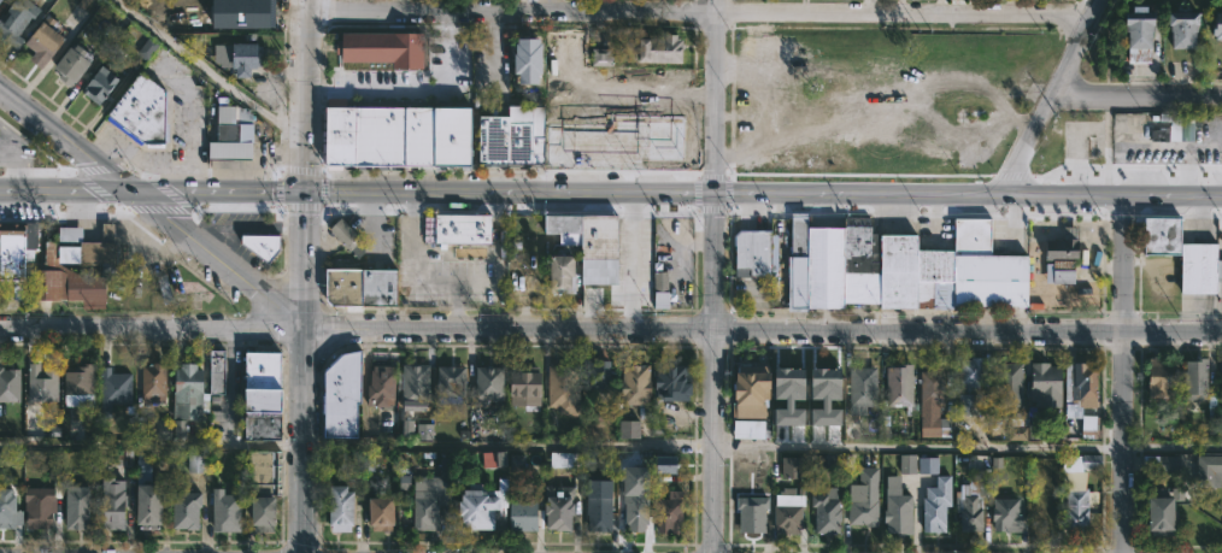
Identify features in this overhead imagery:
building: (1, 1)
road: (544, 6)
building: (28, 10)
road: (698, 12)
building: (241, 16)
building: (1214, 25)
building: (1176, 28)
building: (1133, 34)
building: (129, 39)
building: (46, 42)
building: (527, 51)
building: (666, 51)
building: (390, 55)
building: (601, 57)
building: (242, 59)
building: (565, 59)
building: (77, 66)
road: (208, 72)
building: (601, 84)
building: (664, 86)
building: (104, 87)
road: (412, 92)
road: (1136, 98)
road: (1048, 100)
building: (147, 112)
building: (662, 118)
road: (192, 125)
building: (1173, 128)
building: (404, 134)
building: (518, 135)
building: (235, 136)
traffic signals: (302, 192)
traffic signals: (142, 195)
road: (610, 196)
road: (155, 206)
building: (468, 227)
road: (248, 228)
building: (348, 234)
building: (593, 241)
building: (265, 243)
building: (89, 246)
building: (758, 252)
building: (1180, 253)
building: (1058, 254)
building: (43, 267)
building: (894, 267)
building: (564, 271)
road: (304, 276)
road: (715, 276)
building: (366, 286)
building: (663, 287)
road: (610, 336)
building: (219, 371)
building: (601, 373)
building: (1220, 375)
road: (1124, 376)
building: (1156, 376)
building: (453, 380)
building: (155, 381)
building: (677, 381)
building: (43, 382)
building: (493, 382)
building: (1194, 382)
building: (418, 383)
building: (968, 383)
building: (10, 384)
building: (640, 384)
building: (829, 384)
building: (903, 384)
building: (82, 386)
building: (529, 386)
building: (1006, 386)
building: (1042, 386)
building: (1076, 386)
building: (383, 387)
building: (793, 387)
building: (116, 388)
building: (566, 389)
building: (862, 389)
building: (190, 390)
building: (346, 394)
building: (265, 395)
building: (930, 405)
building: (745, 406)
building: (1088, 424)
building: (1016, 425)
building: (407, 428)
building: (168, 429)
building: (628, 429)
building: (1034, 430)
building: (424, 431)
building: (1058, 433)
road: (611, 447)
building: (494, 459)
building: (572, 459)
building: (823, 461)
building: (196, 463)
building: (368, 463)
building: (907, 463)
building: (665, 464)
building: (1161, 464)
building: (928, 465)
building: (794, 466)
building: (1205, 470)
building: (404, 481)
building: (1073, 488)
building: (151, 493)
building: (862, 498)
building: (436, 499)
building: (968, 501)
building: (116, 504)
building: (41, 506)
building: (564, 506)
building: (80, 507)
building: (894, 507)
building: (11, 508)
building: (192, 508)
building: (483, 508)
building: (830, 508)
building: (228, 510)
building: (346, 510)
building: (639, 510)
building: (786, 511)
building: (268, 512)
building: (387, 512)
building: (603, 512)
building: (674, 512)
building: (751, 512)
building: (1158, 512)
building: (930, 513)
building: (1003, 513)
building: (528, 514)

